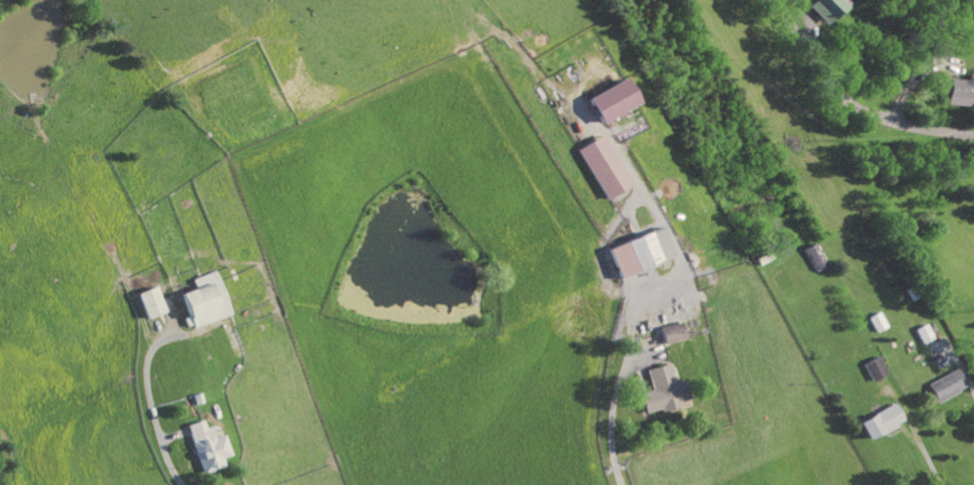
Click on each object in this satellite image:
building: (822, 9)
building: (959, 93)
road: (852, 100)
building: (612, 101)
building: (605, 168)
building: (640, 253)
building: (812, 258)
building: (206, 302)
building: (152, 303)
building: (874, 323)
building: (672, 334)
building: (921, 335)
building: (873, 370)
building: (945, 386)
building: (664, 392)
road: (151, 412)
road: (612, 415)
building: (881, 423)
building: (208, 448)

